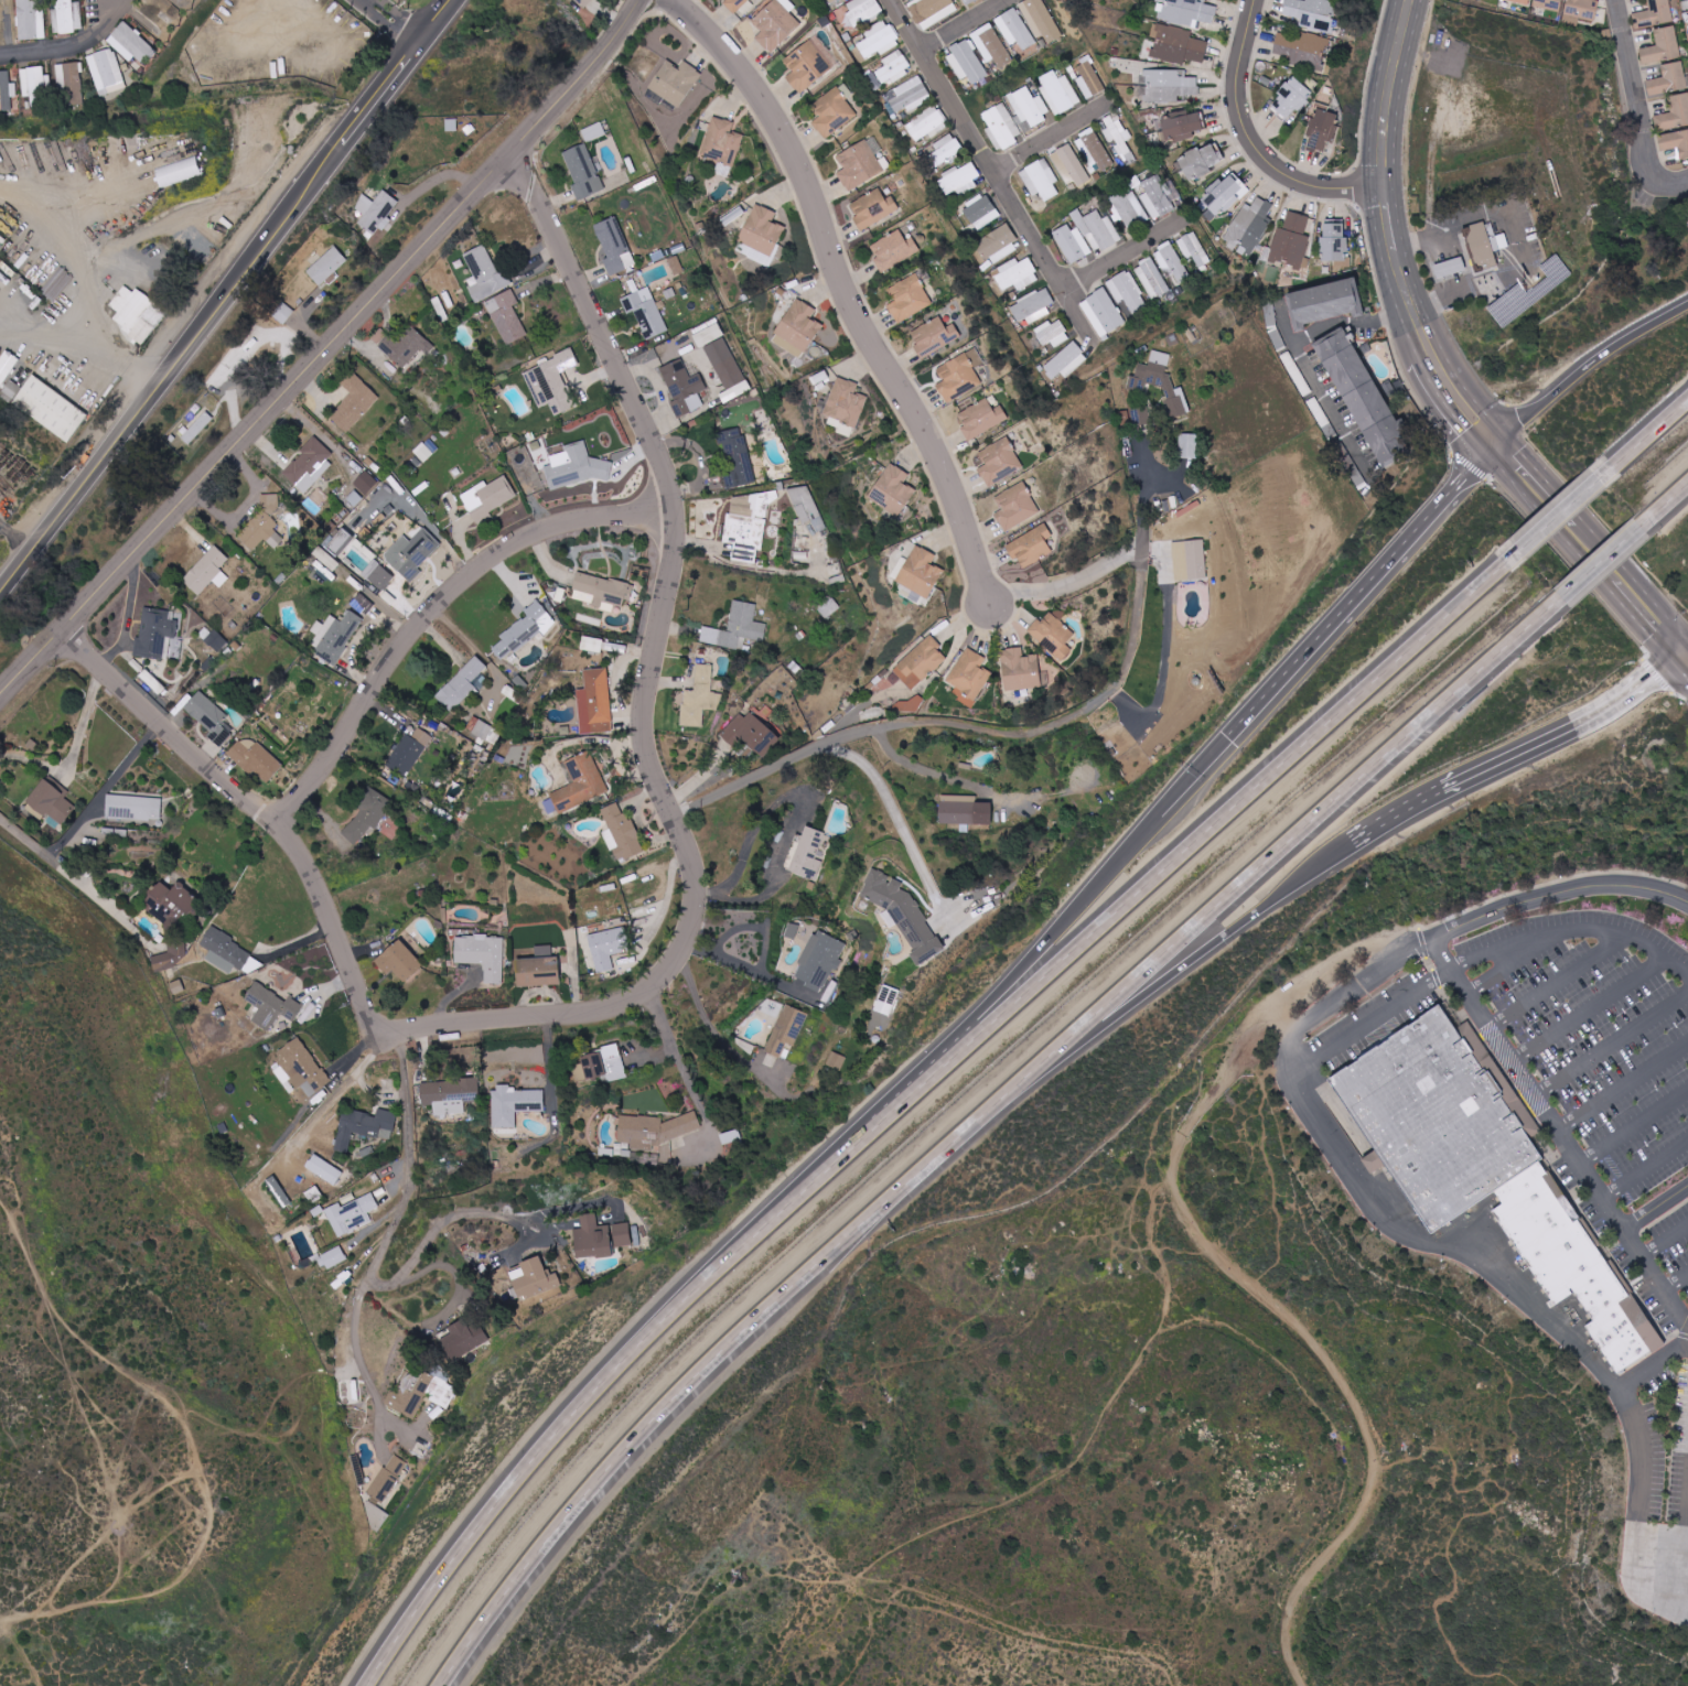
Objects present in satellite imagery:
building: (831, 0)
building: (967, 1)
building: (1520, 1)
building: (581, 3)
building: (734, 4)
building: (1549, 4)
building: (1582, 8)
building: (863, 10)
building: (931, 10)
building: (1187, 11)
building: (1312, 13)
building: (1654, 14)
building: (68, 17)
building: (31, 19)
building: (1040, 20)
road: (400, 21)
building: (775, 23)
road: (975, 29)
building: (1014, 29)
building: (879, 40)
building: (131, 43)
building: (991, 45)
building: (1178, 45)
building: (1663, 45)
building: (1300, 47)
road: (75, 50)
building: (967, 63)
building: (806, 66)
building: (894, 67)
building: (107, 72)
building: (1089, 77)
building: (1668, 79)
building: (72, 80)
building: (674, 82)
building: (1169, 85)
building: (35, 86)
building: (6, 90)
building: (1060, 91)
road: (1393, 94)
building: (907, 96)
building: (1290, 98)
road: (1643, 106)
building: (834, 112)
building: (1674, 112)
building: (1015, 117)
building: (926, 125)
building: (1180, 126)
building: (1321, 130)
building: (594, 132)
building: (1118, 137)
building: (722, 141)
building: (1675, 142)
road: (1255, 143)
road: (1049, 145)
building: (945, 151)
building: (1201, 161)
building: (862, 163)
building: (1071, 163)
building: (178, 171)
building: (583, 171)
road: (991, 172)
building: (961, 180)
building: (1041, 180)
road: (432, 181)
road: (311, 193)
building: (1221, 195)
building: (1158, 197)
building: (873, 208)
building: (1128, 208)
road: (57, 209)
building: (376, 212)
building: (981, 212)
road: (1391, 223)
building: (1249, 227)
building: (762, 230)
building: (1086, 235)
building: (917, 237)
building: (1292, 240)
building: (1334, 242)
building: (612, 245)
building: (997, 245)
building: (1482, 247)
building: (1194, 249)
building: (893, 250)
road: (1125, 262)
building: (1173, 262)
building: (675, 264)
building: (326, 266)
building: (1450, 268)
building: (485, 272)
building: (1017, 274)
building: (1152, 278)
road: (1480, 283)
road: (854, 289)
building: (1127, 291)
building: (908, 299)
building: (1325, 302)
road: (1413, 305)
building: (1032, 306)
building: (645, 312)
building: (1103, 312)
building: (136, 313)
building: (283, 313)
building: (506, 316)
building: (797, 328)
building: (708, 333)
building: (1052, 333)
road: (46, 334)
building: (934, 336)
road: (95, 339)
building: (405, 347)
road: (324, 352)
building: (1066, 361)
building: (724, 364)
road: (1585, 364)
building: (4, 368)
building: (959, 375)
building: (11, 383)
building: (684, 387)
road: (1462, 396)
building: (1363, 398)
building: (354, 403)
building: (846, 404)
building: (50, 408)
road: (1332, 408)
building: (981, 417)
building: (196, 429)
traffic signals: (1493, 434)
road: (1645, 443)
building: (739, 456)
building: (999, 461)
building: (309, 465)
building: (573, 467)
building: (365, 483)
road: (80, 488)
building: (892, 490)
building: (354, 498)
building: (487, 498)
building: (269, 500)
road: (1555, 504)
building: (1015, 506)
road: (1666, 506)
building: (807, 507)
road: (426, 516)
road: (1561, 517)
building: (261, 532)
building: (1030, 545)
building: (411, 553)
building: (1196, 560)
road: (767, 566)
road: (1600, 566)
building: (206, 572)
building: (920, 572)
building: (378, 575)
road: (1067, 585)
road: (1361, 585)
road: (670, 586)
building: (601, 592)
building: (363, 604)
road: (1648, 609)
road: (434, 615)
road: (127, 624)
building: (737, 628)
building: (523, 630)
building: (1053, 634)
building: (155, 635)
building: (334, 636)
building: (216, 640)
road: (1685, 644)
building: (592, 645)
traffic signals: (1681, 647)
road: (1685, 650)
building: (920, 662)
building: (1020, 670)
building: (969, 677)
building: (462, 684)
building: (699, 698)
building: (595, 702)
building: (911, 705)
building: (209, 717)
building: (484, 731)
road: (1014, 732)
building: (751, 733)
building: (408, 753)
road: (1507, 756)
building: (254, 757)
road: (69, 759)
road: (1194, 775)
building: (580, 783)
road: (974, 789)
road: (100, 792)
building: (51, 802)
building: (135, 807)
building: (965, 811)
road: (797, 818)
building: (365, 821)
building: (622, 833)
road: (28, 836)
road: (912, 840)
road: (1284, 846)
building: (808, 854)
road: (1180, 854)
road: (1559, 893)
road: (316, 903)
building: (170, 906)
building: (904, 915)
road: (757, 925)
road: (1570, 927)
building: (608, 947)
road: (1043, 947)
building: (226, 952)
building: (172, 954)
building: (482, 954)
building: (820, 960)
road: (1516, 960)
building: (398, 961)
building: (538, 969)
road: (755, 971)
road: (1173, 976)
road: (1557, 977)
building: (175, 986)
road: (451, 995)
building: (886, 1001)
building: (271, 1006)
road: (1587, 1006)
road: (1372, 1023)
parking lot: (1596, 1028)
road: (718, 1031)
building: (786, 1031)
road: (1610, 1040)
road: (655, 1055)
building: (836, 1060)
building: (604, 1063)
building: (302, 1068)
road: (690, 1081)
road: (1622, 1084)
road: (378, 1092)
road: (335, 1095)
building: (449, 1095)
road: (408, 1103)
building: (515, 1104)
building: (1439, 1117)
road: (1633, 1125)
building: (365, 1126)
building: (655, 1133)
road: (1558, 1133)
road: (1645, 1168)
building: (279, 1191)
road: (1655, 1209)
road: (509, 1211)
building: (352, 1214)
road: (1402, 1232)
building: (600, 1239)
road: (1665, 1242)
road: (533, 1243)
parking lot: (1671, 1244)
building: (332, 1257)
building: (1576, 1263)
road: (416, 1273)
building: (533, 1280)
road: (1241, 1282)
road: (1675, 1282)
road: (357, 1321)
building: (461, 1337)
road: (697, 1361)
road: (1652, 1365)
building: (419, 1393)
road: (585, 1407)
building: (383, 1484)
building: (376, 1516)
road: (1682, 1567)
road: (1637, 1568)

